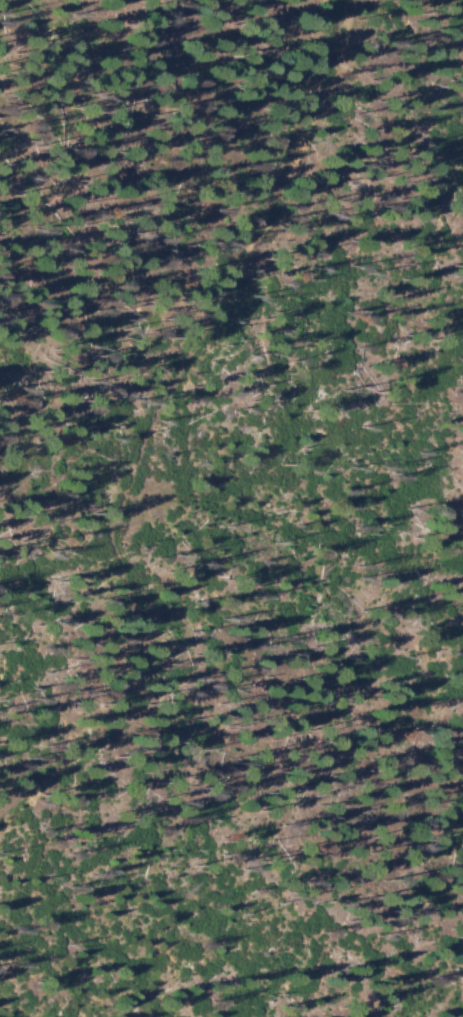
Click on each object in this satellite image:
road: (162, 437)

